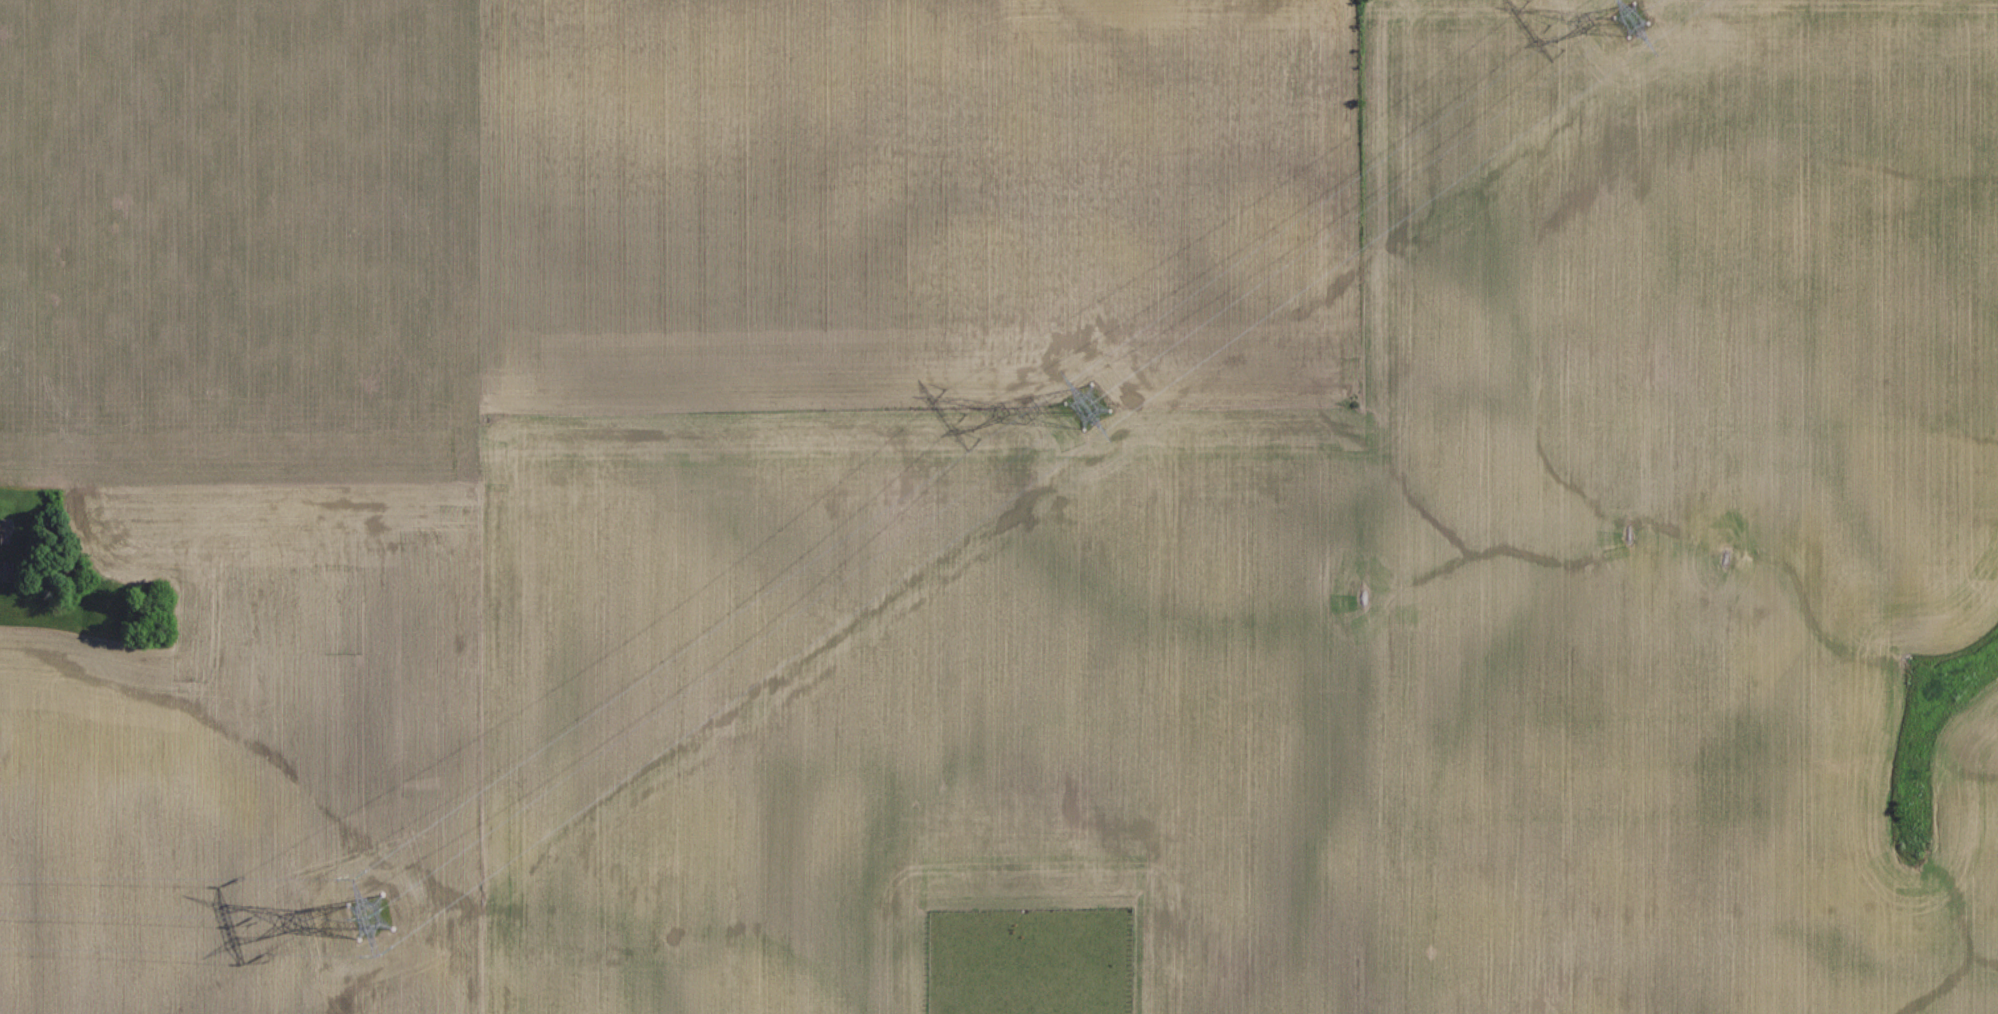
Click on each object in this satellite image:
power tower: (1625, 22)
power tower: (1083, 401)
power tower: (353, 915)

